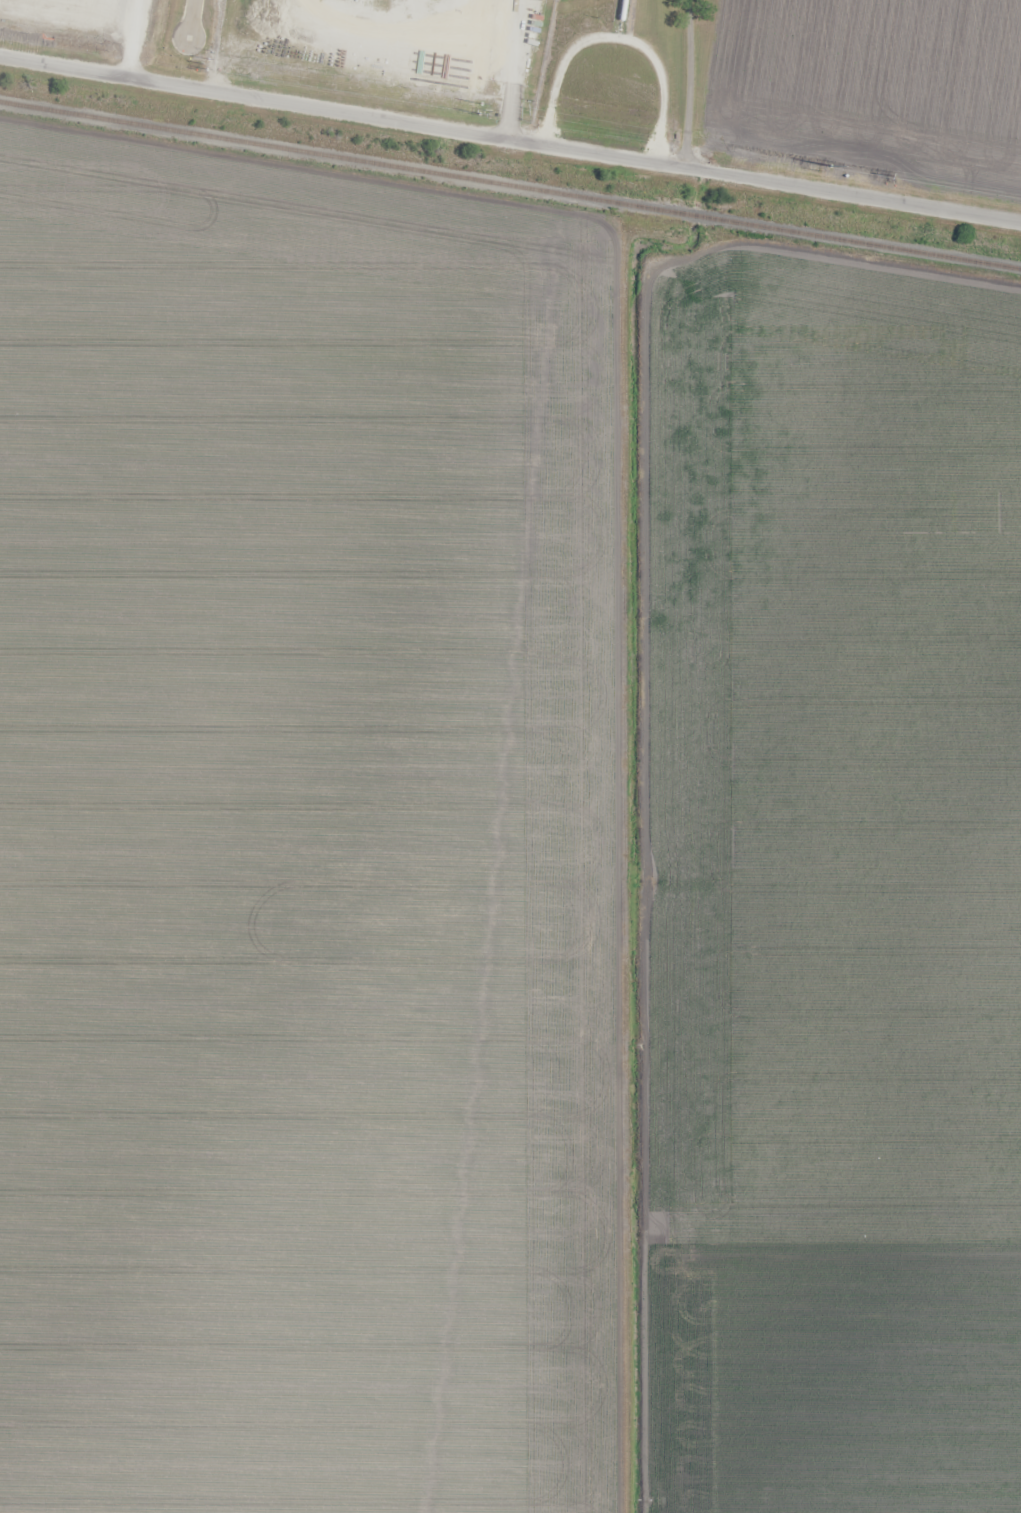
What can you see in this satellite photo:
power tower: (198, 66)
road: (509, 69)
power tower: (483, 114)
road: (510, 140)
power tower: (818, 168)
railway: (510, 184)

